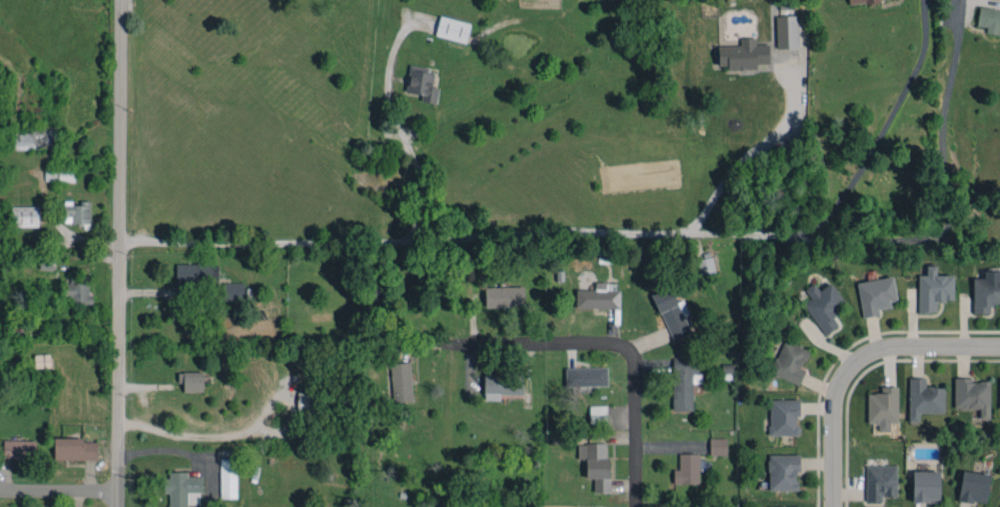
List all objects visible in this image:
building: (859, 1)
building: (989, 19)
building: (453, 29)
building: (786, 31)
building: (743, 54)
building: (422, 83)
road: (884, 128)
road: (403, 138)
road: (754, 153)
building: (59, 174)
building: (76, 213)
building: (24, 216)
road: (632, 231)
road: (119, 253)
building: (705, 265)
building: (197, 273)
building: (933, 289)
building: (77, 290)
building: (232, 291)
building: (986, 291)
building: (875, 295)
building: (504, 296)
building: (599, 296)
building: (823, 305)
building: (672, 313)
road: (618, 344)
building: (42, 360)
road: (851, 360)
building: (790, 361)
building: (586, 376)
building: (191, 380)
building: (684, 381)
building: (401, 382)
building: (502, 385)
building: (999, 394)
building: (972, 395)
building: (924, 398)
building: (305, 402)
building: (883, 405)
building: (598, 414)
building: (783, 416)
road: (244, 434)
building: (717, 446)
building: (19, 449)
building: (74, 449)
road: (187, 453)
building: (596, 465)
building: (687, 469)
building: (783, 472)
building: (228, 478)
building: (880, 482)
building: (926, 486)
building: (181, 487)
building: (974, 487)
road: (59, 492)
building: (784, 506)

